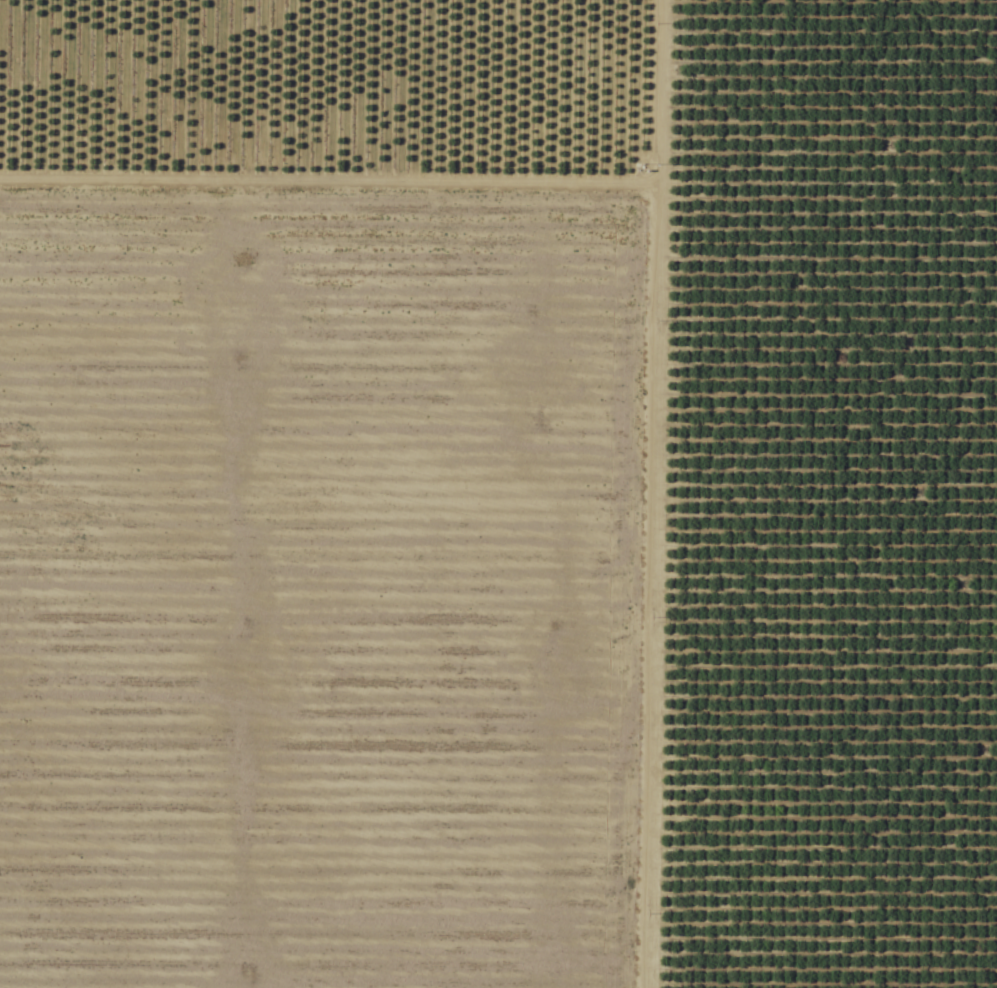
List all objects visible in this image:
crop: (498, 494)
road: (646, 494)

